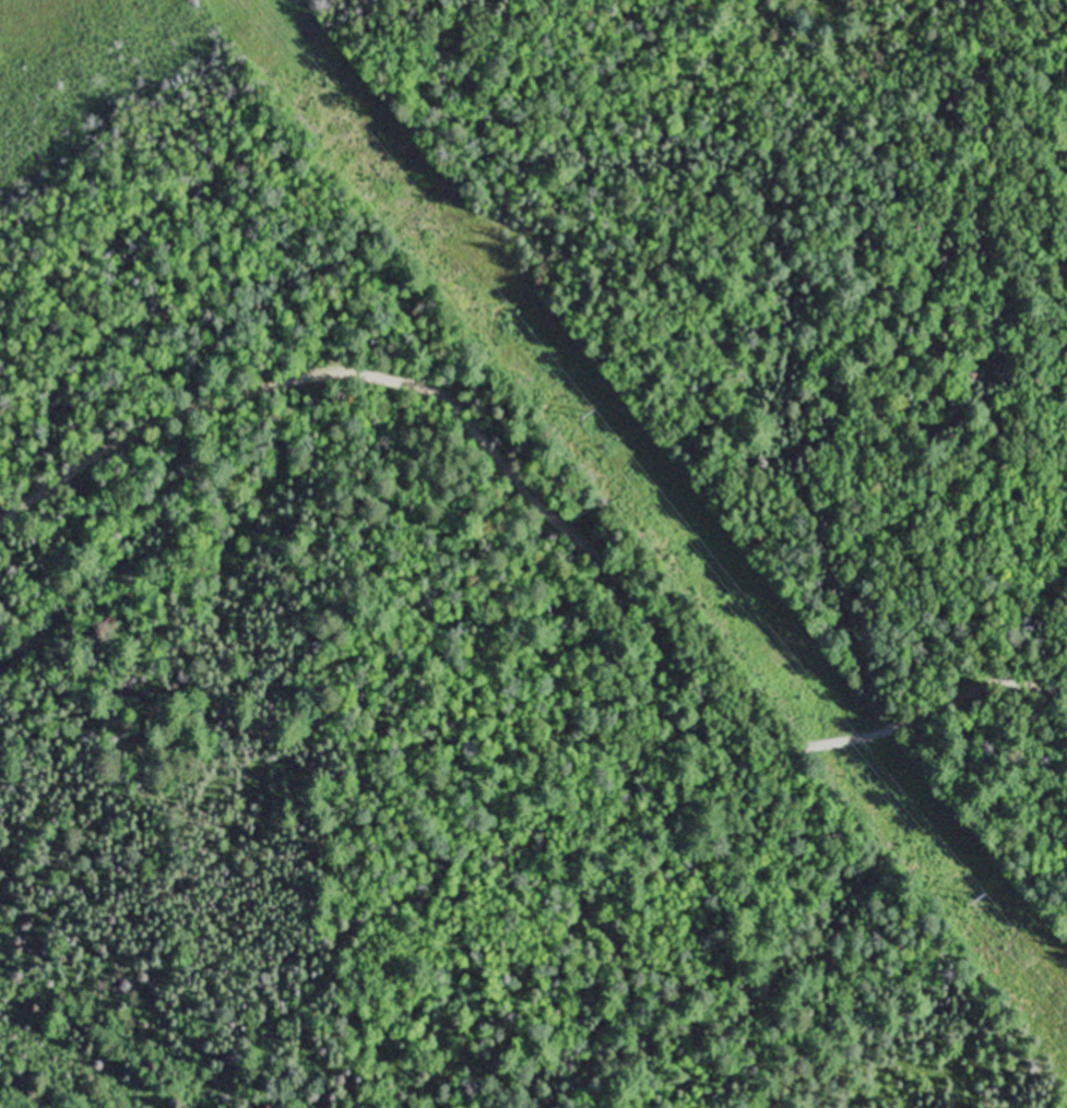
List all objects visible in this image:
power tower: (596, 418)
road: (579, 537)
power tower: (995, 905)

